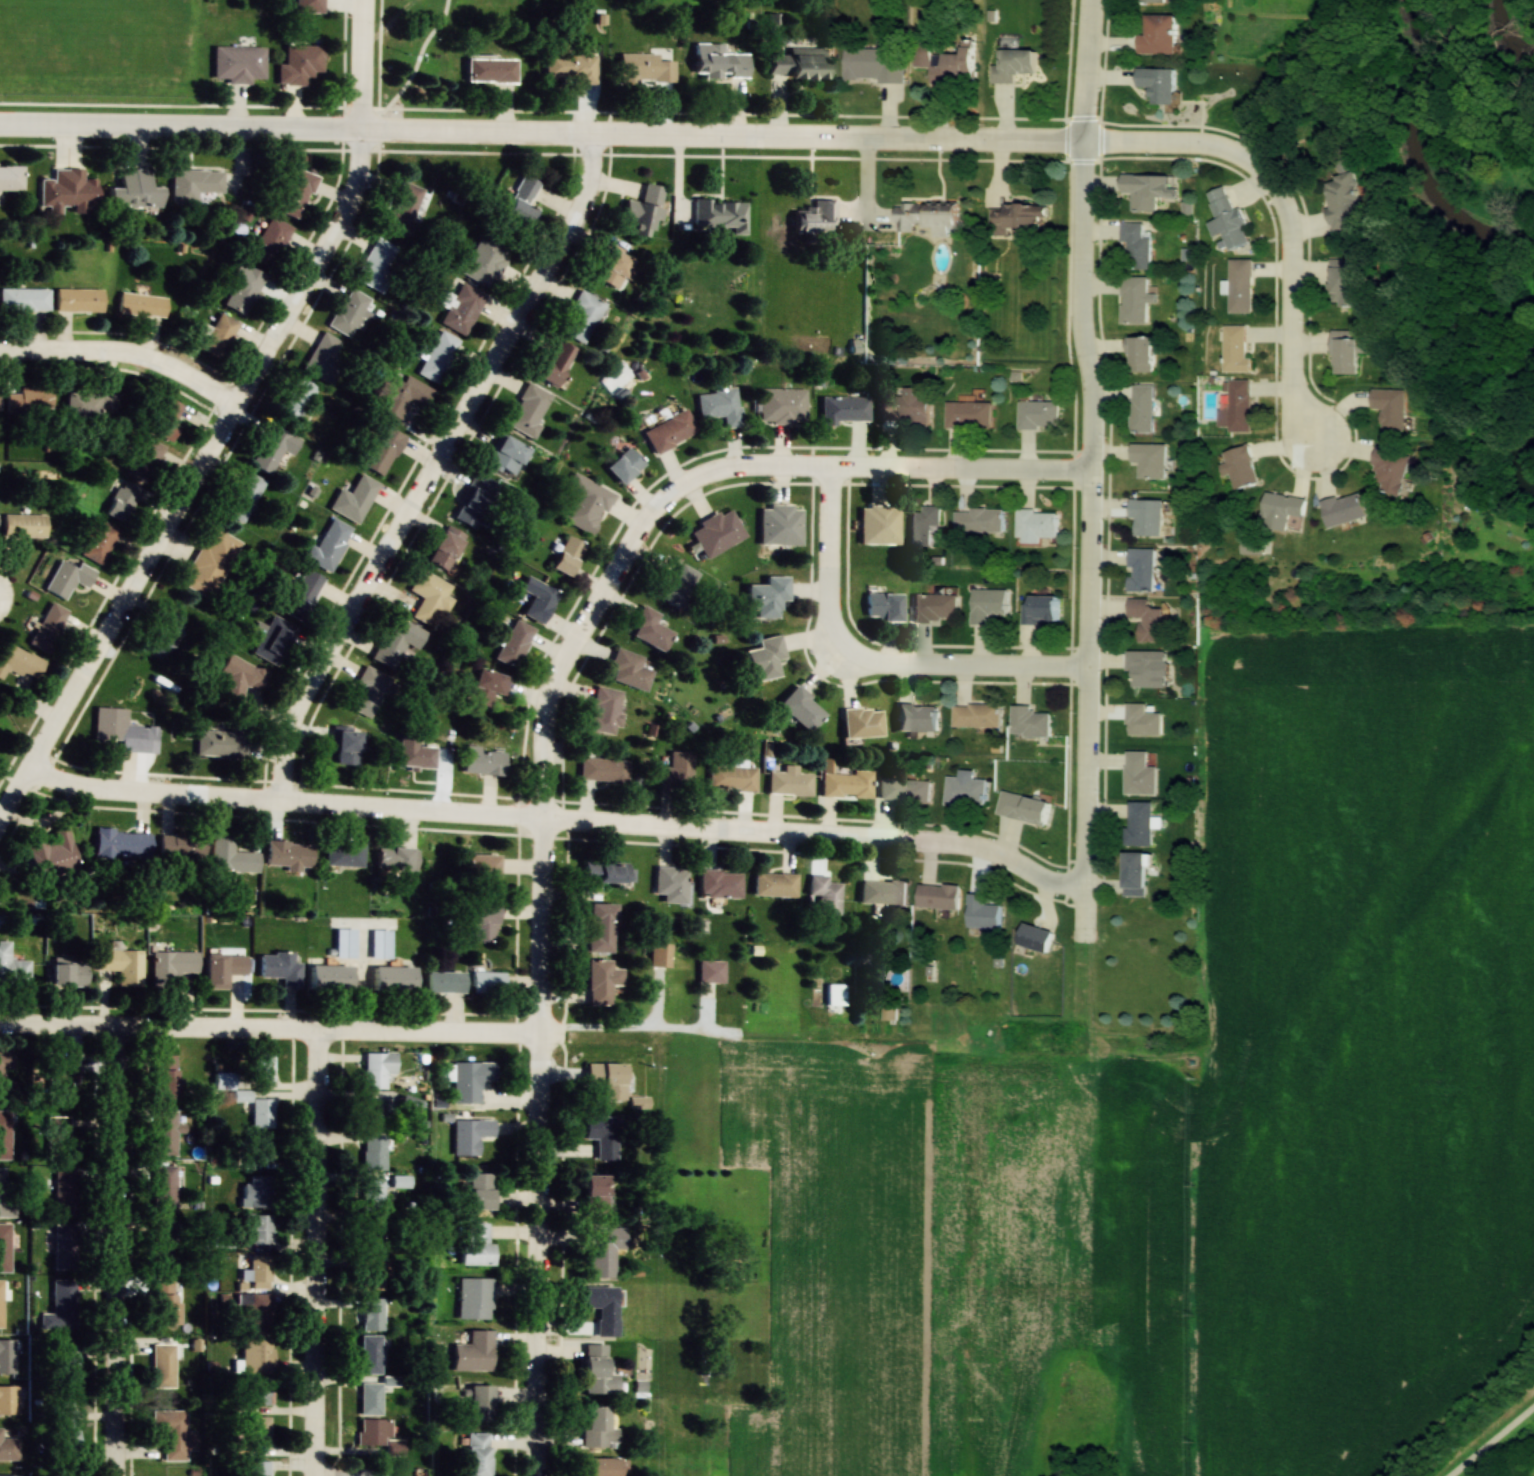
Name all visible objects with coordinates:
building: (1155, 0)
building: (309, 6)
building: (1157, 34)
park: (416, 57)
building: (943, 60)
building: (719, 61)
building: (875, 61)
building: (237, 63)
building: (798, 63)
building: (299, 64)
building: (1013, 64)
building: (571, 66)
building: (644, 68)
building: (490, 70)
road: (414, 73)
building: (1157, 84)
road: (540, 134)
building: (11, 177)
building: (193, 184)
building: (1148, 189)
building: (67, 190)
building: (133, 190)
building: (296, 193)
building: (520, 201)
building: (1344, 201)
building: (403, 208)
building: (643, 210)
building: (719, 215)
road: (1285, 215)
building: (926, 216)
building: (1018, 217)
building: (815, 219)
building: (1227, 219)
building: (269, 241)
building: (1136, 245)
building: (485, 259)
building: (377, 264)
building: (612, 266)
building: (1346, 282)
building: (1239, 285)
building: (241, 287)
building: (24, 299)
building: (78, 300)
building: (1134, 300)
building: (140, 305)
building: (461, 308)
building: (348, 312)
building: (582, 317)
building: (217, 335)
building: (1235, 349)
building: (1349, 351)
road: (123, 354)
building: (1141, 354)
building: (324, 357)
building: (437, 357)
building: (553, 364)
building: (400, 395)
building: (28, 400)
building: (295, 401)
building: (89, 403)
building: (719, 405)
building: (782, 406)
building: (1236, 406)
building: (1141, 408)
building: (1390, 408)
building: (844, 409)
building: (904, 409)
building: (528, 410)
building: (1037, 414)
building: (968, 415)
building: (163, 418)
road: (224, 422)
building: (669, 431)
building: (272, 449)
building: (381, 451)
building: (504, 456)
building: (1149, 460)
road: (428, 466)
building: (623, 466)
building: (1240, 467)
building: (1391, 470)
building: (243, 496)
building: (353, 499)
building: (122, 501)
building: (475, 501)
building: (585, 503)
building: (1282, 509)
building: (1345, 509)
building: (1147, 517)
building: (979, 520)
building: (877, 524)
building: (24, 525)
building: (779, 525)
building: (923, 525)
building: (1036, 525)
building: (716, 533)
building: (97, 541)
building: (328, 545)
building: (1251, 546)
building: (444, 547)
road: (625, 553)
building: (566, 555)
building: (210, 562)
building: (1141, 570)
building: (66, 578)
building: (673, 586)
building: (302, 595)
building: (767, 597)
building: (429, 598)
building: (539, 603)
building: (987, 604)
building: (882, 607)
building: (934, 608)
building: (1040, 610)
building: (1147, 620)
building: (47, 627)
building: (648, 629)
building: (164, 635)
building: (271, 639)
building: (395, 641)
building: (514, 644)
building: (765, 658)
road: (868, 660)
building: (19, 662)
building: (1144, 667)
building: (627, 669)
building: (240, 676)
building: (488, 687)
building: (368, 691)
building: (800, 709)
building: (602, 710)
building: (976, 715)
building: (917, 717)
building: (1143, 721)
building: (861, 722)
building: (1030, 722)
building: (116, 728)
building: (223, 741)
building: (345, 745)
road: (1084, 753)
building: (413, 754)
building: (481, 762)
building: (602, 770)
building: (676, 770)
building: (1136, 772)
building: (732, 778)
building: (789, 782)
building: (845, 782)
building: (904, 790)
building: (964, 791)
building: (1023, 807)
road: (559, 821)
building: (1138, 823)
building: (121, 845)
building: (180, 846)
building: (288, 854)
building: (341, 854)
building: (52, 856)
building: (230, 856)
building: (395, 859)
building: (481, 865)
building: (606, 871)
building: (1134, 873)
building: (671, 884)
building: (719, 884)
building: (774, 885)
building: (883, 893)
building: (825, 895)
building: (937, 896)
building: (983, 913)
building: (483, 921)
building: (600, 928)
building: (1036, 938)
building: (343, 943)
building: (379, 944)
building: (659, 955)
building: (121, 965)
building: (171, 966)
building: (12, 968)
building: (222, 968)
building: (279, 968)
building: (710, 971)
building: (68, 973)
building: (328, 978)
building: (392, 979)
building: (442, 982)
building: (599, 982)
building: (486, 983)
road: (368, 1031)
building: (261, 1067)
building: (376, 1070)
building: (1, 1076)
building: (163, 1078)
building: (61, 1080)
building: (605, 1080)
building: (470, 1081)
building: (407, 1107)
building: (261, 1114)
building: (370, 1115)
building: (164, 1133)
building: (4, 1135)
building: (470, 1136)
building: (604, 1137)
building: (57, 1138)
building: (259, 1148)
building: (372, 1153)
building: (2, 1184)
building: (163, 1188)
building: (480, 1191)
building: (65, 1193)
building: (256, 1193)
building: (371, 1195)
building: (593, 1196)
building: (255, 1229)
building: (370, 1235)
building: (221, 1240)
building: (162, 1243)
building: (476, 1244)
building: (64, 1247)
building: (4, 1248)
road: (102, 1251)
building: (601, 1251)
road: (316, 1252)
road: (538, 1255)
building: (259, 1273)
building: (371, 1274)
building: (475, 1299)
building: (0, 1303)
building: (164, 1303)
building: (61, 1306)
building: (602, 1308)
building: (256, 1312)
building: (371, 1314)
building: (474, 1353)
building: (256, 1355)
building: (369, 1355)
building: (6, 1356)
building: (67, 1364)
building: (162, 1365)
building: (596, 1371)
building: (258, 1391)
building: (369, 1398)
building: (7, 1399)
building: (476, 1404)
building: (66, 1427)
building: (596, 1427)
building: (258, 1431)
building: (174, 1433)
building: (377, 1435)
road: (1495, 1442)
building: (8, 1448)
building: (478, 1454)
building: (600, 1466)
building: (257, 1468)
building: (8, 1475)

